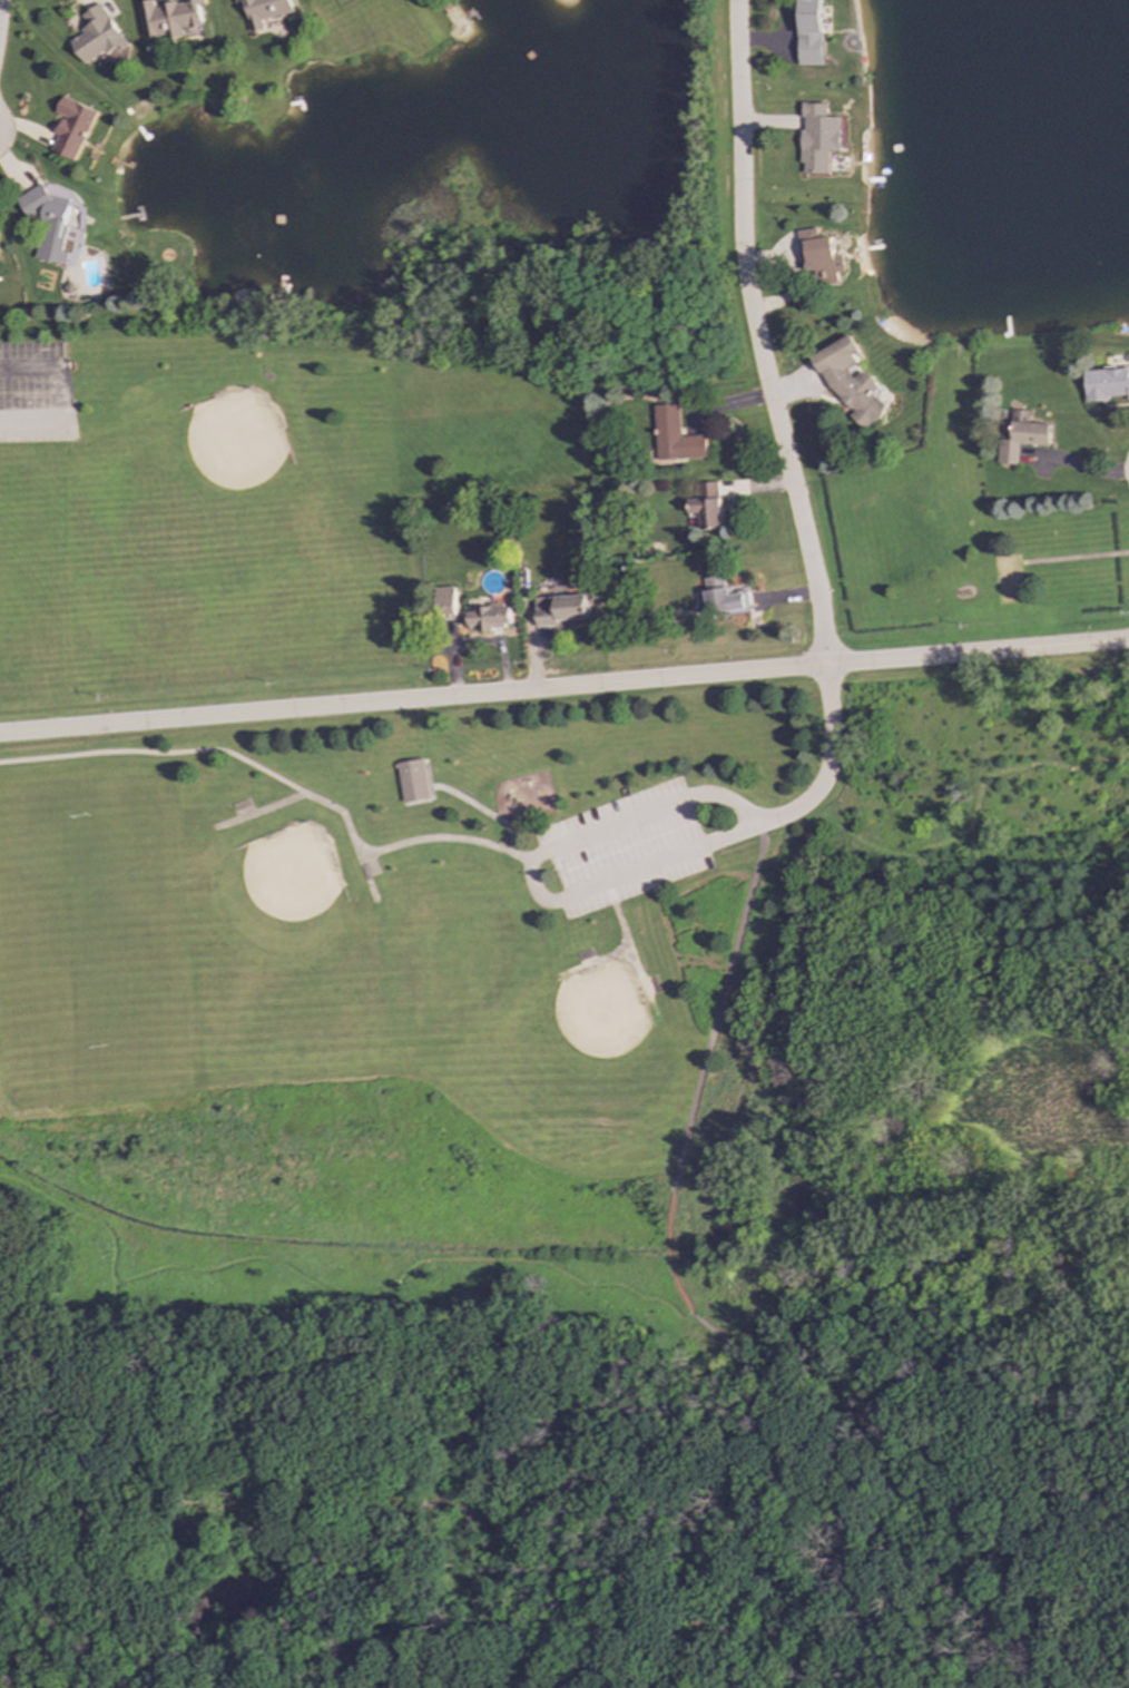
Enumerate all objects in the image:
road: (0, 1)
building: (169, 17)
building: (806, 32)
building: (97, 36)
building: (71, 127)
building: (812, 137)
building: (48, 223)
building: (813, 257)
road: (754, 335)
building: (847, 383)
building: (1103, 383)
road: (57, 391)
parking lot: (35, 393)
building: (674, 436)
building: (1018, 436)
park: (222, 474)
building: (706, 506)
park: (923, 521)
park: (890, 538)
road: (1073, 556)
park: (1007, 578)
building: (724, 597)
building: (561, 611)
building: (468, 614)
park: (36, 624)
road: (564, 687)
road: (156, 753)
building: (411, 781)
road: (257, 809)
road: (479, 809)
road: (400, 842)
parking lot: (620, 847)
road: (603, 881)
park: (87, 922)
park: (271, 931)
road: (627, 948)
park: (577, 1048)
park: (399, 1073)
road: (671, 1263)

